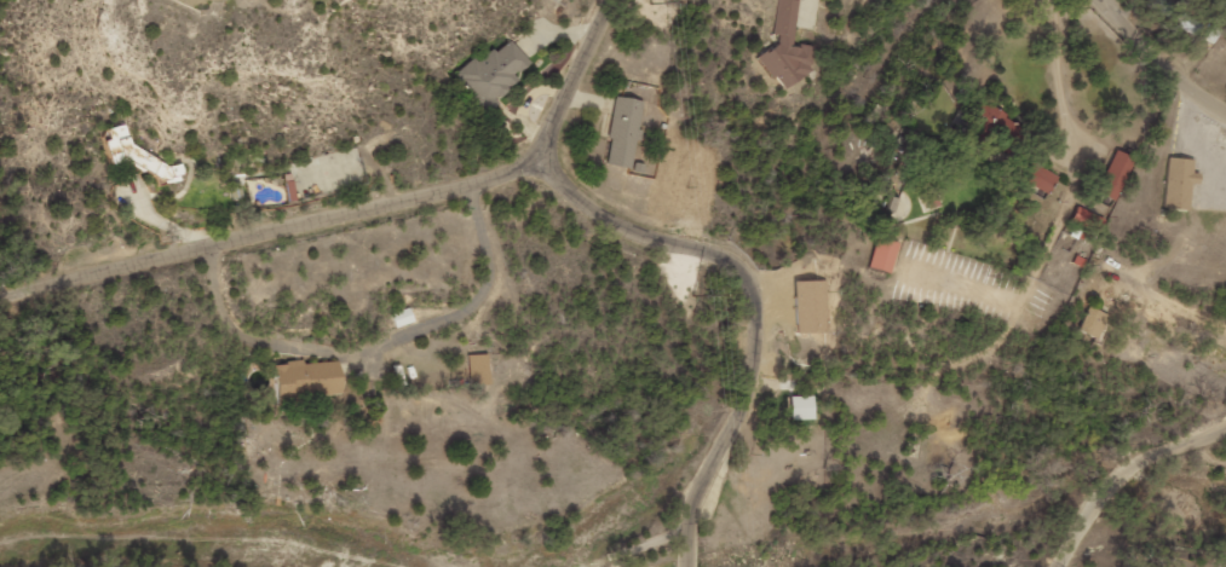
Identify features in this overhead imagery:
building: (1170, 16)
building: (787, 47)
road: (1150, 65)
building: (494, 73)
building: (623, 132)
road: (1061, 132)
building: (138, 156)
building: (1116, 174)
building: (1040, 177)
building: (1180, 181)
power tower: (673, 191)
building: (1087, 219)
road: (363, 224)
road: (939, 233)
building: (883, 254)
building: (810, 306)
road: (756, 307)
building: (403, 317)
building: (1093, 323)
building: (479, 369)
building: (309, 380)
building: (800, 407)
road: (1159, 457)
river: (1127, 478)
river: (1178, 504)
river: (992, 523)
road: (1083, 534)
river: (220, 544)

